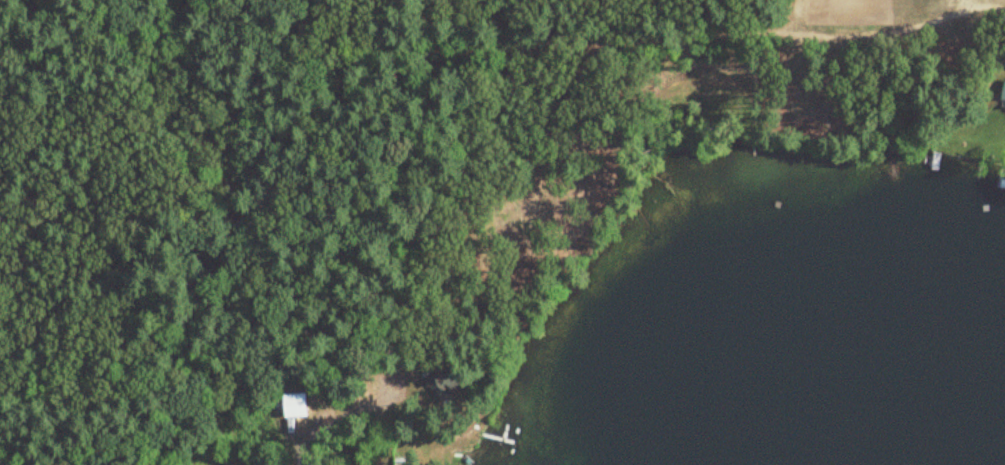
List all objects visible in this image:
building: (1001, 92)
road: (295, 340)
road: (42, 366)
building: (300, 407)
road: (283, 460)

